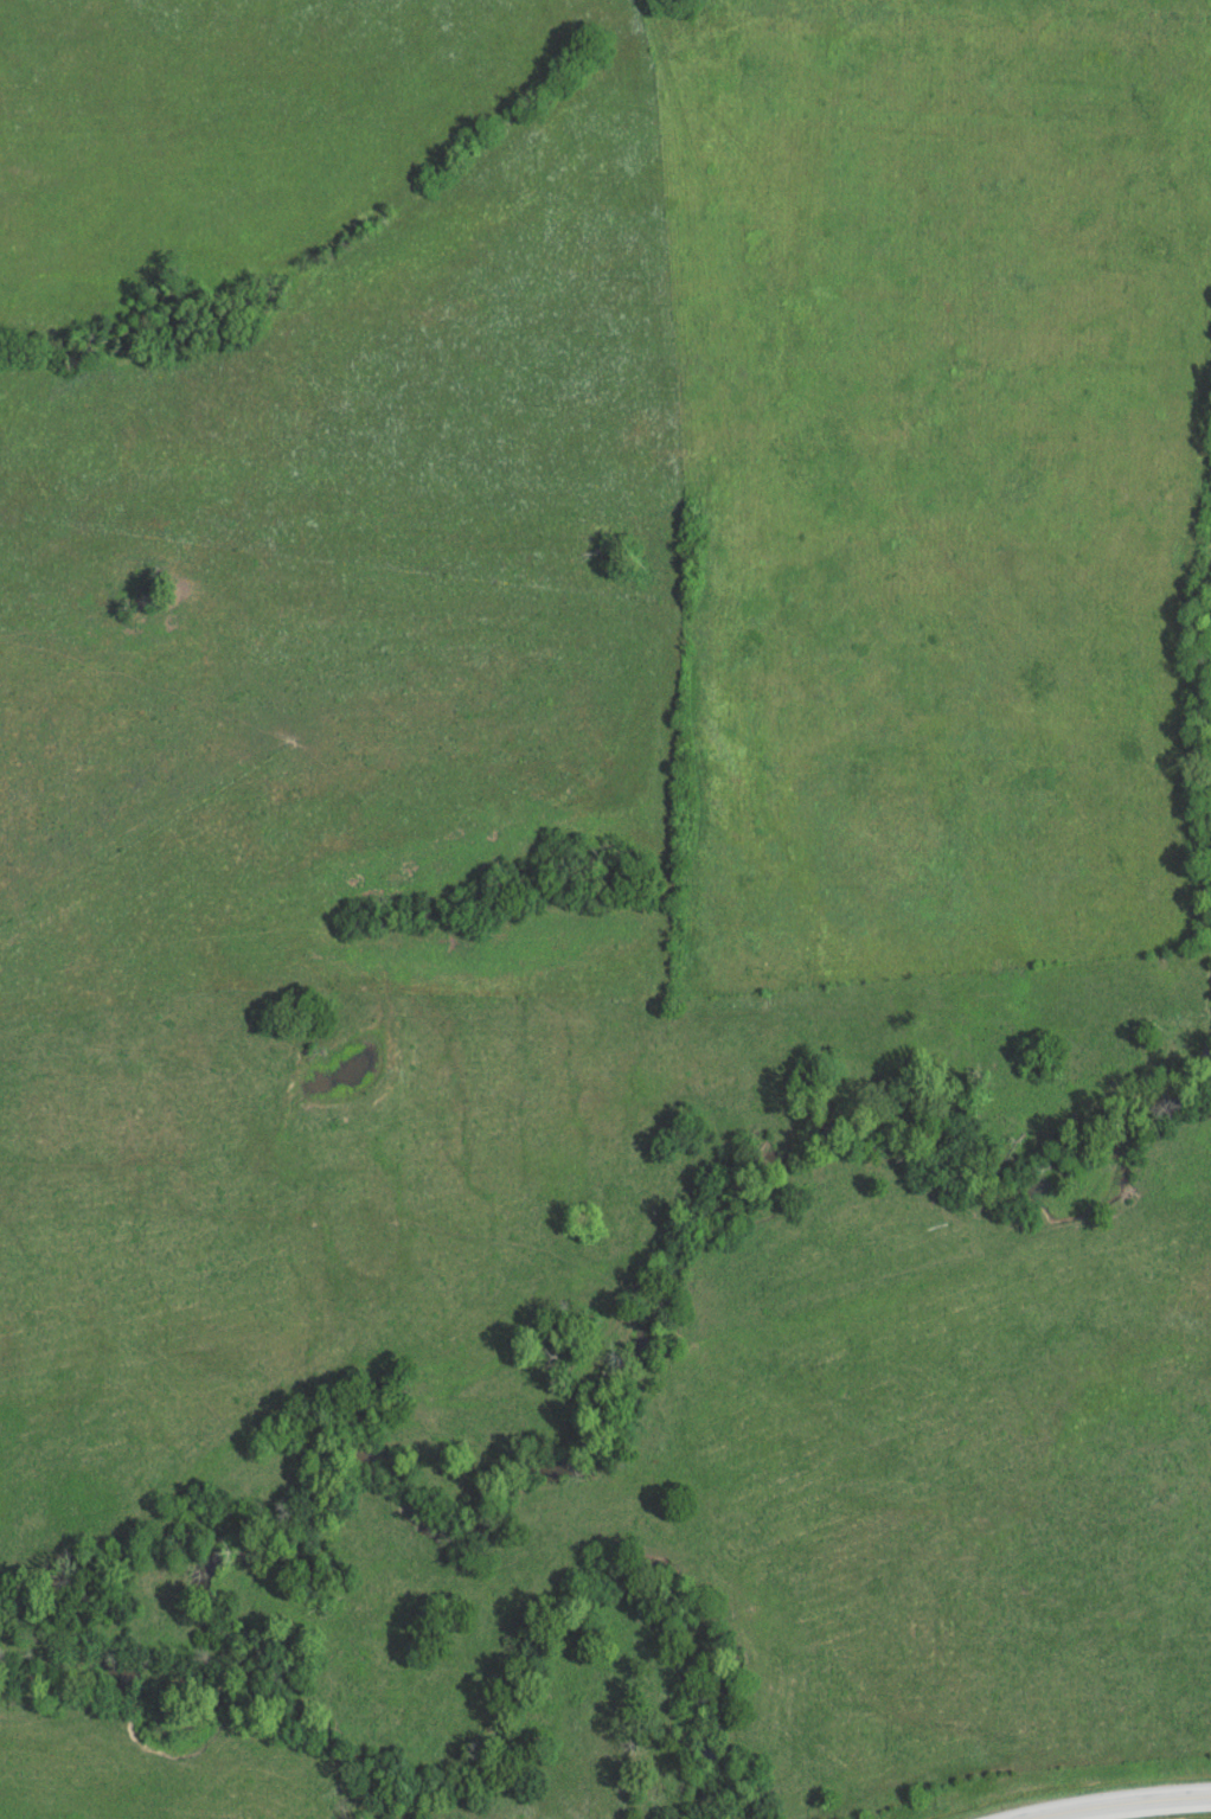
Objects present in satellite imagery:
road: (1113, 1800)

